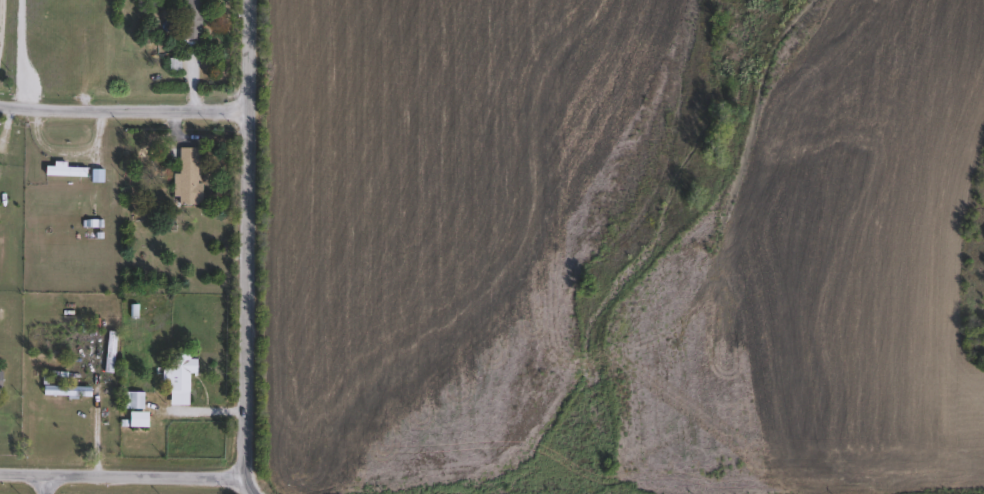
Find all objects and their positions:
building: (192, 20)
road: (1, 21)
road: (15, 54)
road: (195, 79)
road: (125, 112)
road: (8, 128)
road: (96, 136)
building: (64, 172)
building: (188, 178)
road: (252, 234)
building: (179, 378)
building: (1, 383)
building: (71, 393)
building: (133, 402)
road: (215, 406)
building: (139, 421)
road: (125, 471)
road: (253, 481)
road: (46, 484)

